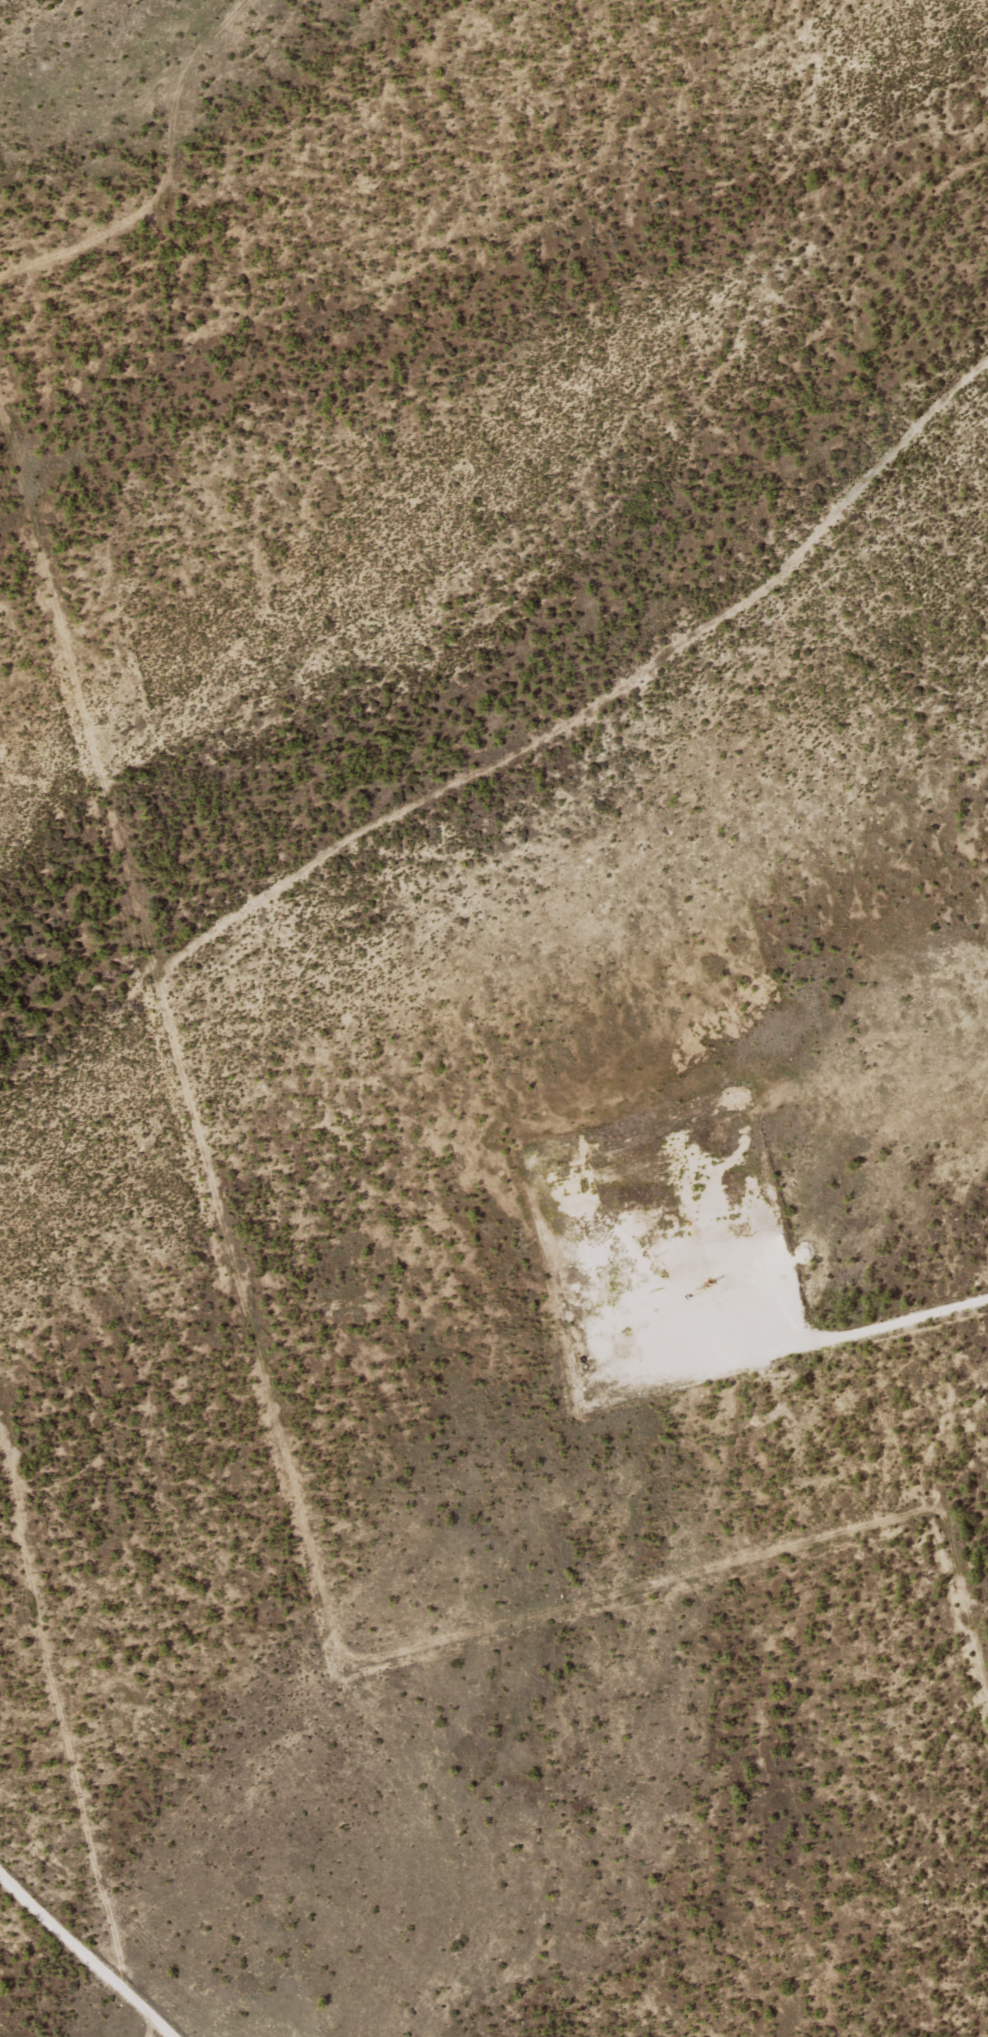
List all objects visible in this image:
road: (124, 1902)

